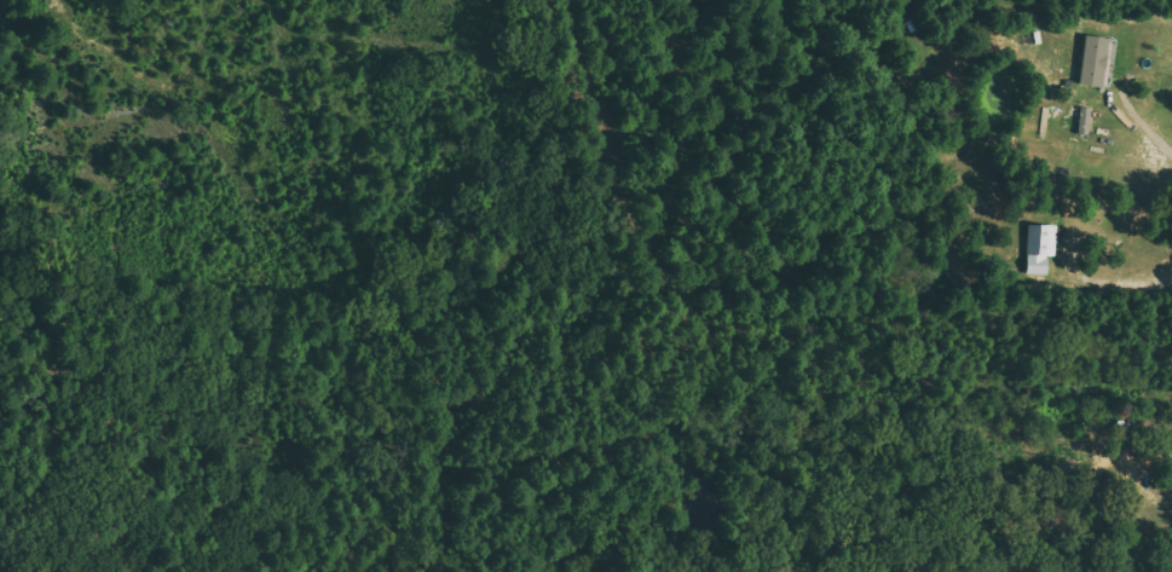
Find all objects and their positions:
building: (1096, 60)
building: (1041, 244)
building: (1098, 489)

